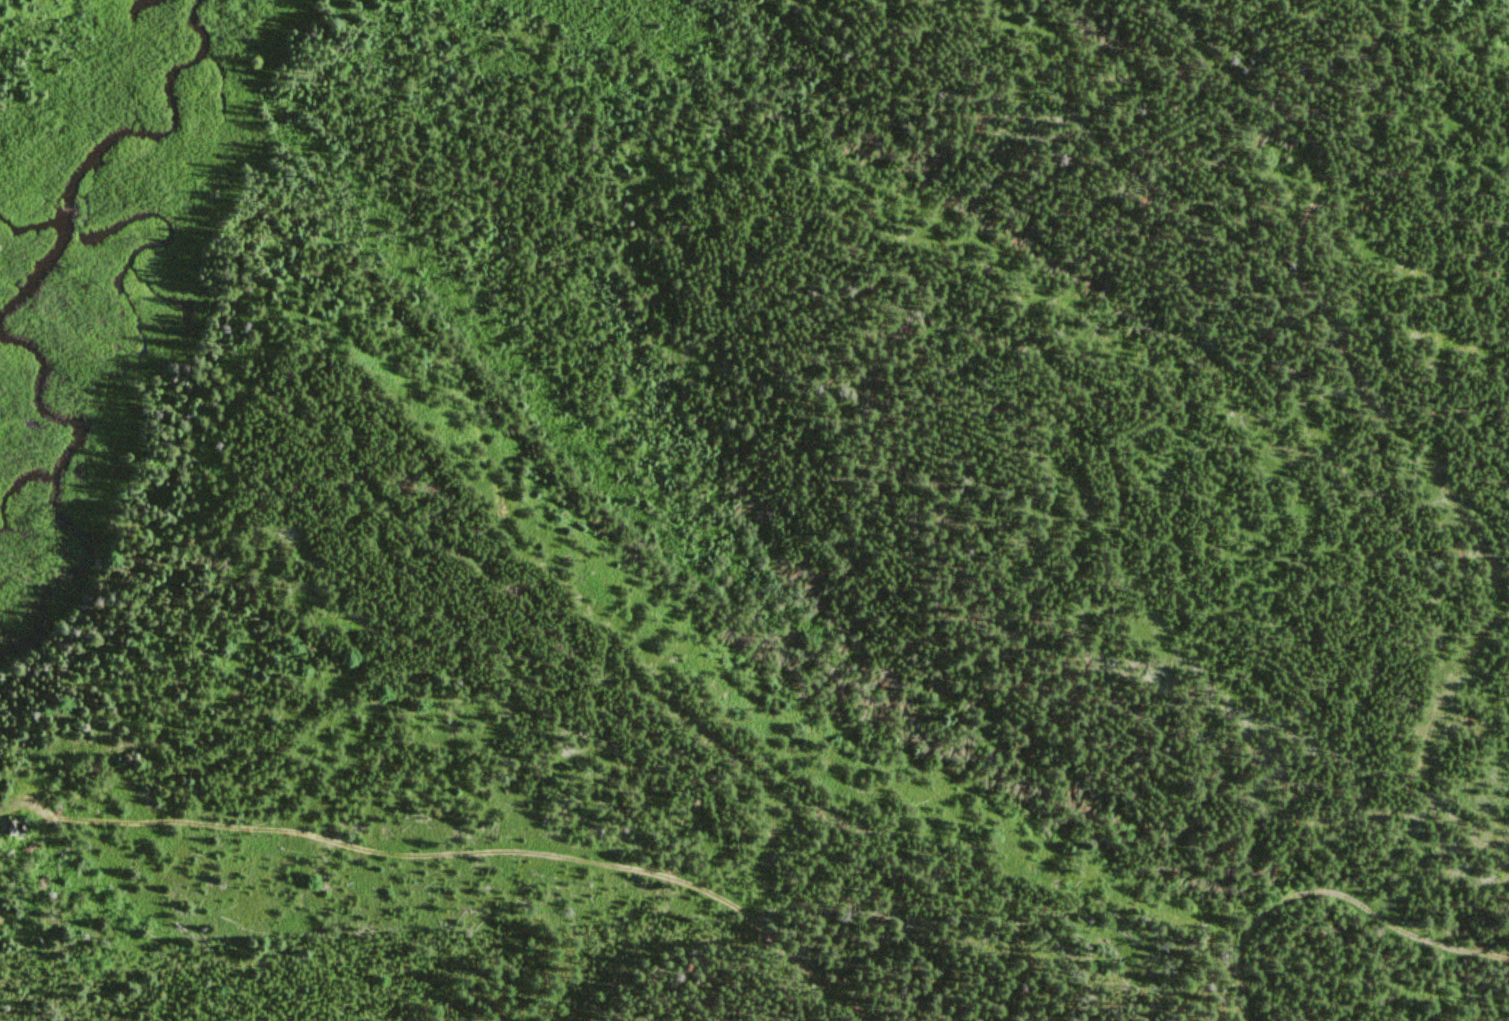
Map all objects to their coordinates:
river: (27, 331)
road: (1408, 460)
building: (9, 828)
road: (459, 856)
road: (1333, 893)

